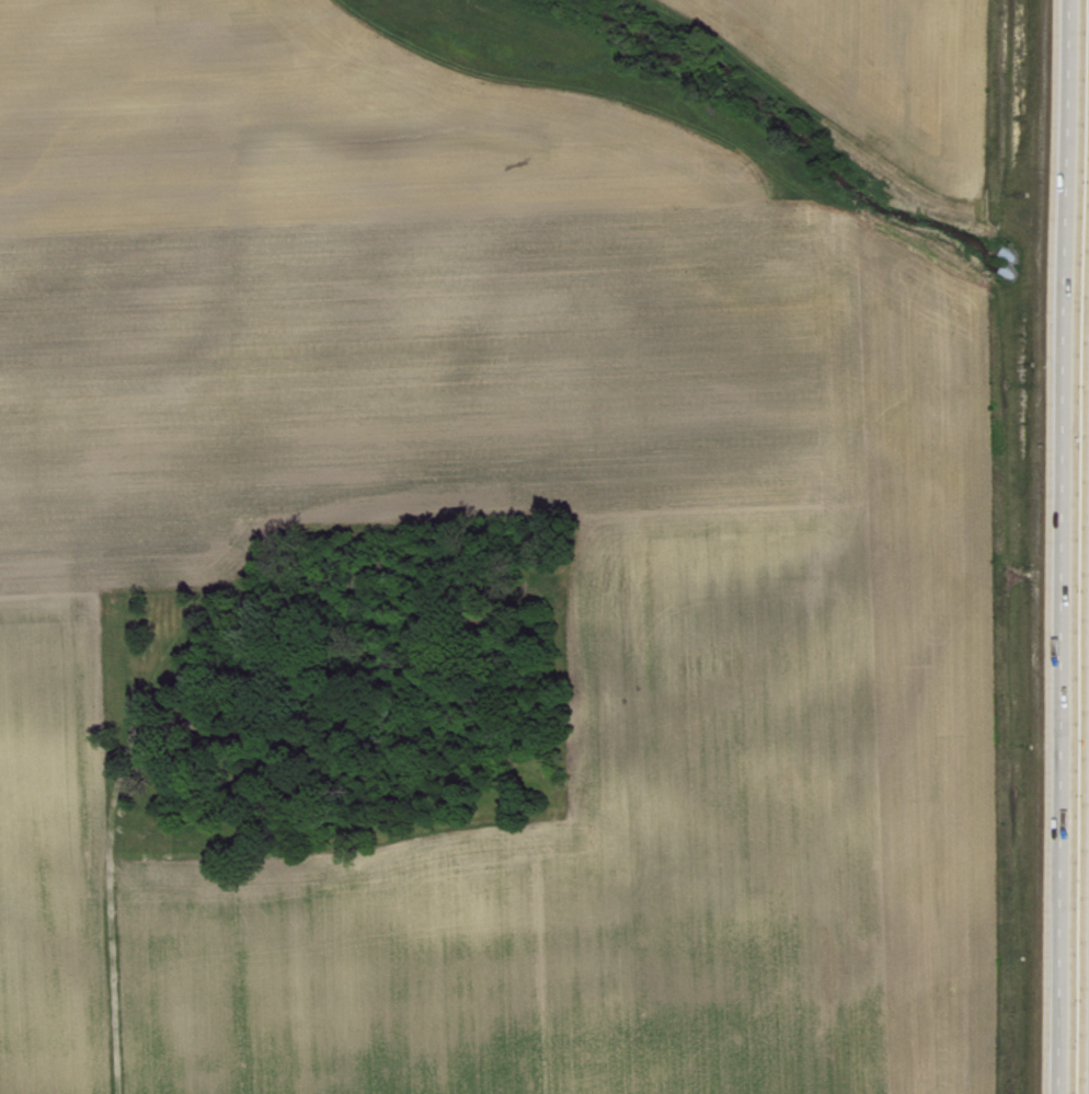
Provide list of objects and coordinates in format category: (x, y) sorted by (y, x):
road: (1063, 546)

